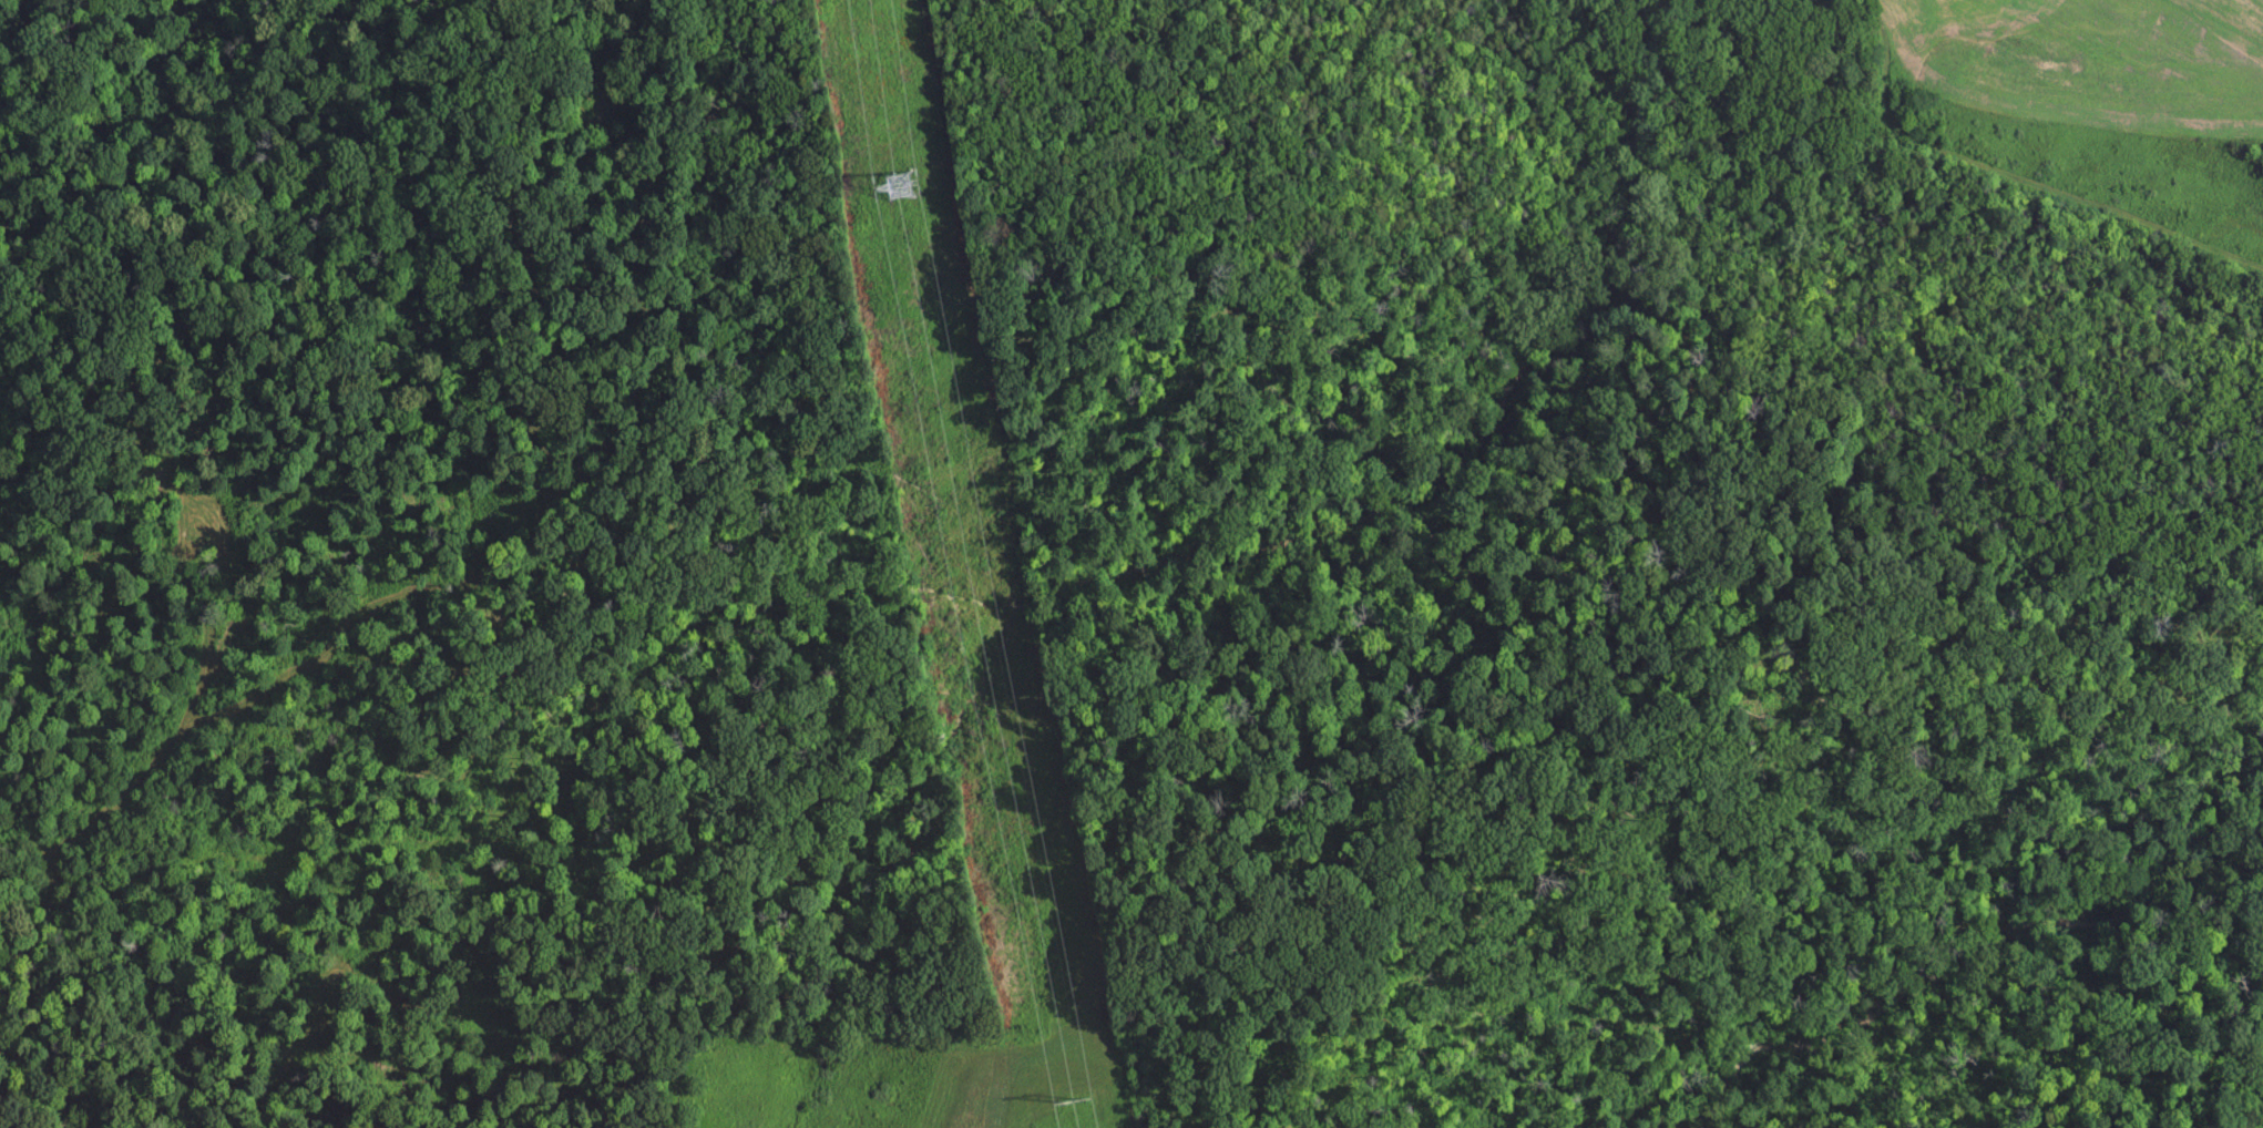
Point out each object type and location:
power tower: (900, 189)
power tower: (1069, 1106)

